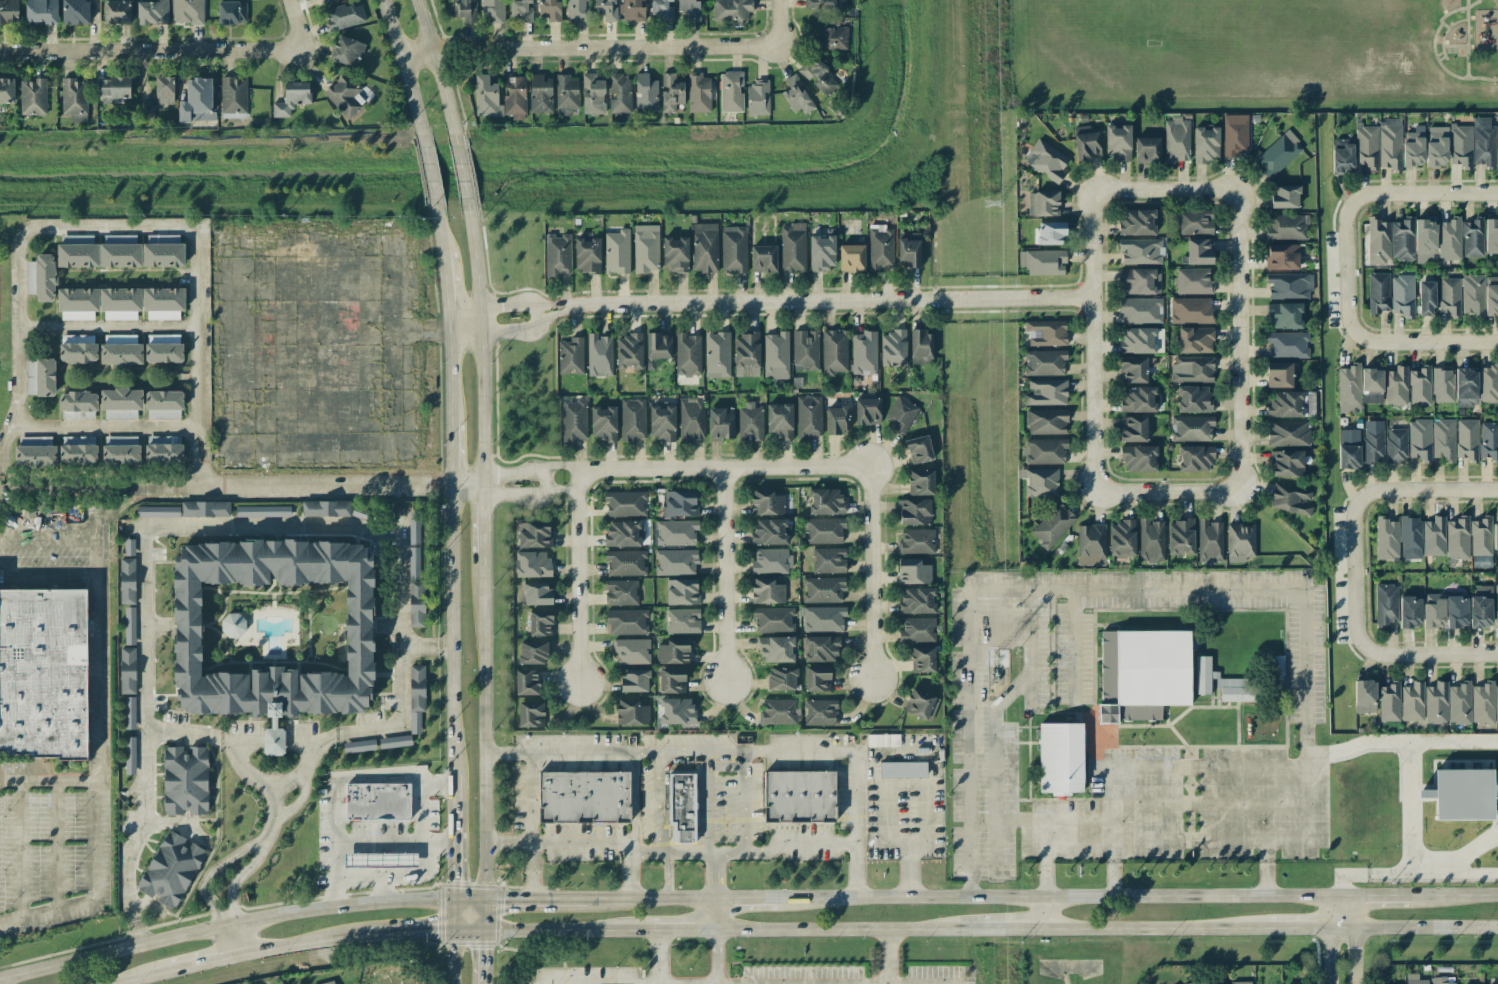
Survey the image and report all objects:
building: (324, 0)
road: (1472, 3)
building: (824, 4)
building: (607, 9)
building: (662, 9)
building: (689, 9)
building: (731, 9)
building: (465, 10)
building: (493, 10)
building: (521, 10)
building: (550, 10)
building: (633, 10)
road: (1452, 10)
building: (8, 11)
building: (40, 11)
building: (75, 11)
building: (117, 11)
building: (187, 11)
building: (577, 11)
building: (152, 12)
building: (232, 12)
building: (345, 16)
road: (785, 20)
road: (1445, 23)
road: (1445, 32)
building: (830, 38)
road: (1468, 39)
road: (1455, 45)
road: (589, 49)
road: (171, 51)
building: (346, 51)
road: (1440, 52)
road: (1442, 57)
road: (436, 69)
road: (1446, 69)
road: (402, 70)
building: (818, 76)
building: (113, 87)
building: (6, 90)
building: (164, 90)
building: (731, 91)
building: (671, 92)
building: (486, 93)
building: (566, 93)
building: (619, 93)
building: (645, 93)
building: (698, 93)
building: (540, 94)
building: (593, 94)
building: (796, 94)
building: (343, 95)
building: (32, 96)
building: (233, 97)
building: (291, 98)
building: (757, 98)
building: (74, 99)
building: (197, 100)
building: (145, 112)
building: (1235, 135)
building: (1176, 140)
building: (1482, 141)
building: (1118, 142)
building: (1206, 144)
building: (1389, 144)
building: (1087, 145)
building: (1366, 145)
building: (1460, 145)
building: (1436, 146)
building: (1413, 147)
building: (1497, 149)
building: (1147, 150)
building: (1278, 154)
building: (1046, 160)
road: (428, 174)
road: (461, 174)
road: (1166, 193)
road: (1418, 194)
building: (1285, 197)
power tower: (992, 203)
building: (1043, 203)
building: (1194, 221)
building: (1136, 222)
building: (1286, 227)
road: (437, 228)
road: (347, 233)
building: (1050, 233)
building: (1491, 236)
building: (1472, 238)
building: (1402, 239)
building: (1450, 239)
building: (1425, 241)
building: (1379, 242)
building: (704, 247)
building: (792, 247)
building: (646, 248)
building: (734, 249)
building: (909, 249)
building: (822, 250)
building: (1141, 251)
building: (1198, 251)
building: (117, 252)
building: (617, 252)
building: (587, 253)
building: (675, 254)
building: (557, 255)
building: (851, 257)
building: (1282, 257)
building: (763, 258)
building: (1043, 261)
building: (1140, 281)
building: (1193, 281)
building: (1288, 286)
road: (445, 289)
building: (1378, 293)
building: (1472, 293)
building: (1403, 295)
building: (1449, 296)
building: (1491, 296)
building: (1426, 298)
road: (833, 301)
building: (120, 303)
road: (506, 305)
building: (1141, 310)
building: (1191, 310)
road: (534, 315)
building: (1285, 315)
building: (1046, 332)
road: (512, 333)
road: (198, 336)
building: (83, 338)
building: (1142, 340)
building: (1195, 340)
road: (481, 341)
road: (1365, 341)
road: (1097, 342)
road: (1238, 342)
building: (1287, 344)
building: (657, 347)
building: (920, 347)
building: (163, 348)
building: (893, 348)
building: (120, 350)
building: (805, 350)
building: (629, 351)
building: (78, 352)
building: (834, 352)
building: (864, 353)
building: (688, 354)
building: (717, 354)
building: (746, 354)
building: (599, 355)
building: (776, 355)
building: (570, 356)
building: (1044, 362)
road: (199, 364)
building: (1135, 368)
building: (1192, 369)
road: (449, 370)
building: (1279, 374)
building: (45, 377)
building: (1488, 383)
building: (1442, 384)
building: (1372, 386)
building: (1396, 386)
building: (1420, 386)
building: (1466, 387)
building: (1349, 388)
building: (1046, 392)
building: (1139, 399)
building: (1194, 399)
building: (121, 402)
building: (164, 404)
building: (1285, 404)
building: (78, 405)
building: (868, 411)
building: (901, 413)
building: (808, 416)
building: (691, 418)
building: (573, 419)
building: (632, 419)
building: (662, 421)
building: (779, 421)
building: (1046, 421)
building: (750, 422)
building: (604, 423)
building: (721, 423)
building: (1191, 428)
building: (1133, 429)
building: (1288, 433)
building: (158, 439)
building: (1420, 439)
building: (1444, 439)
building: (1467, 439)
building: (78, 440)
building: (1489, 440)
building: (1372, 446)
building: (1396, 446)
road: (449, 449)
building: (919, 449)
building: (120, 450)
building: (1044, 451)
building: (35, 452)
building: (163, 453)
building: (78, 454)
building: (1349, 456)
building: (1138, 458)
building: (1195, 458)
road: (726, 460)
building: (1288, 463)
road: (532, 470)
road: (467, 481)
building: (1040, 481)
building: (921, 482)
road: (543, 483)
road: (483, 486)
road: (61, 489)
road: (286, 490)
road: (466, 491)
road: (1168, 491)
road: (1414, 491)
road: (535, 498)
building: (1290, 499)
building: (825, 501)
building: (766, 502)
building: (625, 503)
building: (680, 503)
building: (205, 508)
building: (325, 508)
building: (158, 511)
building: (263, 511)
building: (914, 511)
road: (483, 524)
building: (1053, 525)
building: (414, 527)
building: (824, 530)
building: (771, 531)
building: (1495, 531)
building: (676, 532)
road: (145, 533)
building: (623, 533)
building: (534, 534)
building: (1180, 536)
building: (1434, 536)
building: (1480, 536)
building: (1410, 537)
building: (1457, 537)
building: (1122, 538)
building: (1386, 538)
building: (1150, 540)
building: (916, 541)
building: (1210, 541)
building: (1240, 542)
building: (1091, 545)
building: (129, 547)
building: (828, 560)
building: (675, 561)
building: (771, 561)
building: (625, 562)
building: (414, 563)
building: (533, 564)
road: (872, 568)
road: (727, 571)
building: (913, 571)
road: (580, 579)
building: (127, 581)
building: (823, 589)
road: (1158, 590)
building: (682, 591)
building: (767, 591)
building: (620, 592)
building: (537, 593)
building: (917, 600)
building: (416, 604)
building: (1385, 604)
building: (1496, 605)
building: (1481, 607)
building: (1433, 610)
building: (1410, 611)
building: (1457, 611)
building: (823, 618)
building: (773, 619)
building: (627, 621)
building: (682, 621)
building: (540, 622)
building: (130, 625)
road: (450, 629)
road: (95, 630)
building: (273, 630)
building: (917, 630)
road: (399, 644)
road: (1074, 644)
building: (820, 648)
building: (778, 649)
road: (1372, 649)
building: (631, 651)
building: (673, 651)
building: (532, 652)
building: (922, 659)
building: (127, 670)
building: (1277, 670)
building: (43, 672)
theme park: (43, 672)
building: (783, 678)
building: (817, 678)
power tower: (994, 678)
building: (634, 680)
building: (672, 680)
building: (527, 682)
building: (1222, 683)
building: (416, 696)
building: (1365, 696)
building: (1117, 701)
building: (1389, 702)
building: (1412, 702)
building: (1436, 703)
building: (1459, 703)
building: (1483, 703)
building: (920, 704)
building: (1496, 704)
building: (676, 711)
building: (130, 712)
building: (631, 712)
building: (779, 712)
building: (820, 712)
building: (530, 713)
road: (992, 719)
road: (484, 726)
road: (1452, 737)
building: (884, 740)
building: (395, 741)
building: (359, 745)
road: (742, 754)
building: (130, 755)
road: (1185, 767)
building: (903, 769)
road: (297, 776)
road: (348, 778)
building: (185, 780)
building: (1464, 794)
building: (799, 795)
road: (419, 796)
building: (584, 796)
road: (1406, 799)
building: (378, 801)
building: (681, 806)
road: (708, 807)
road: (982, 819)
road: (1077, 819)
road: (528, 826)
road: (630, 827)
road: (658, 832)
road: (92, 840)
road: (1190, 841)
road: (558, 842)
road: (132, 843)
road: (57, 845)
road: (365, 845)
road: (920, 845)
parking lot: (52, 846)
road: (21, 849)
road: (455, 850)
road: (786, 852)
building: (382, 860)
gas station: (382, 860)
building: (171, 870)
road: (1452, 871)
road: (386, 874)
road: (715, 877)
road: (240, 880)
traffic signals: (455, 881)
road: (1455, 896)
road: (1341, 897)
road: (1377, 897)
road: (1060, 898)
road: (748, 900)
road: (502, 901)
traffic signals: (505, 901)
road: (633, 901)
road: (1044, 913)
road: (715, 914)
road: (224, 927)
road: (1270, 927)
road: (683, 928)
road: (848, 928)
road: (1012, 928)
traffic signals: (436, 929)
road: (438, 929)
road: (567, 929)
road: (227, 942)
road: (311, 942)
road: (484, 943)
traffic signals: (484, 948)
road: (452, 956)
road: (659, 956)
road: (715, 956)
road: (889, 956)
road: (190, 966)
building: (1415, 979)
road: (134, 980)
building: (1443, 980)
building: (330, 982)
building: (1240, 982)

